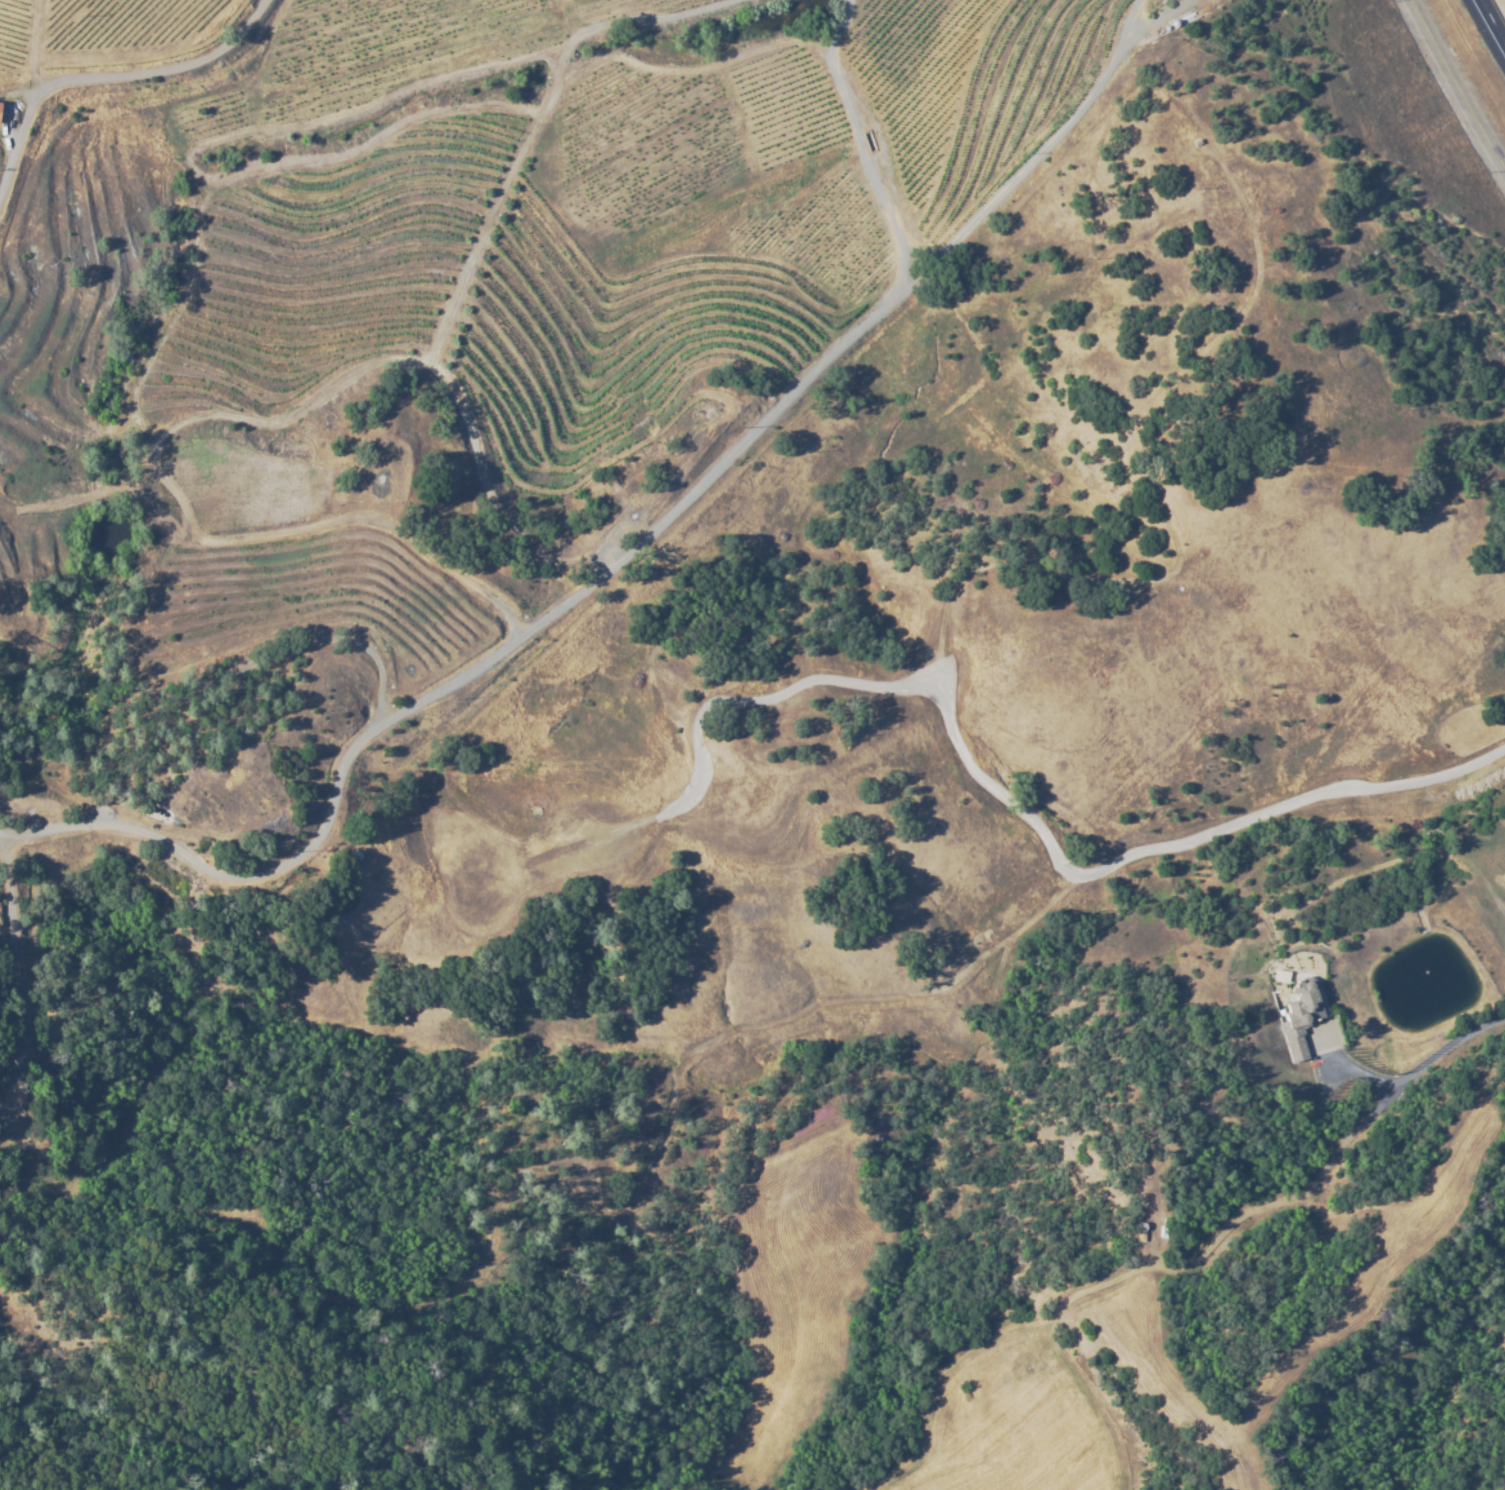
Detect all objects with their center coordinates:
road: (1494, 17)
road: (117, 77)
road: (1460, 80)
building: (0, 104)
building: (1361, 806)
building: (1279, 975)
building: (1299, 1014)

